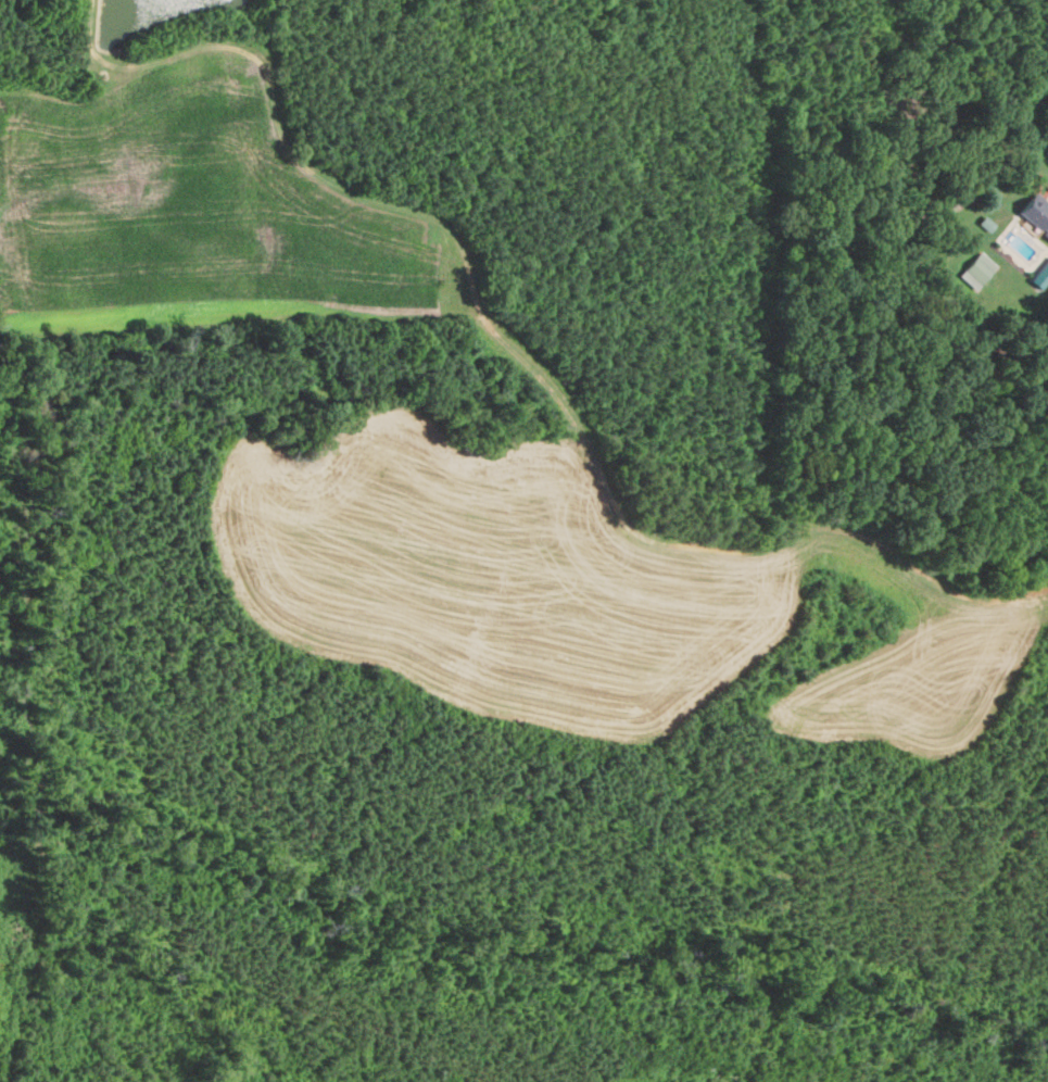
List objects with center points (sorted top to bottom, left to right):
building: (1036, 213)
building: (976, 269)

